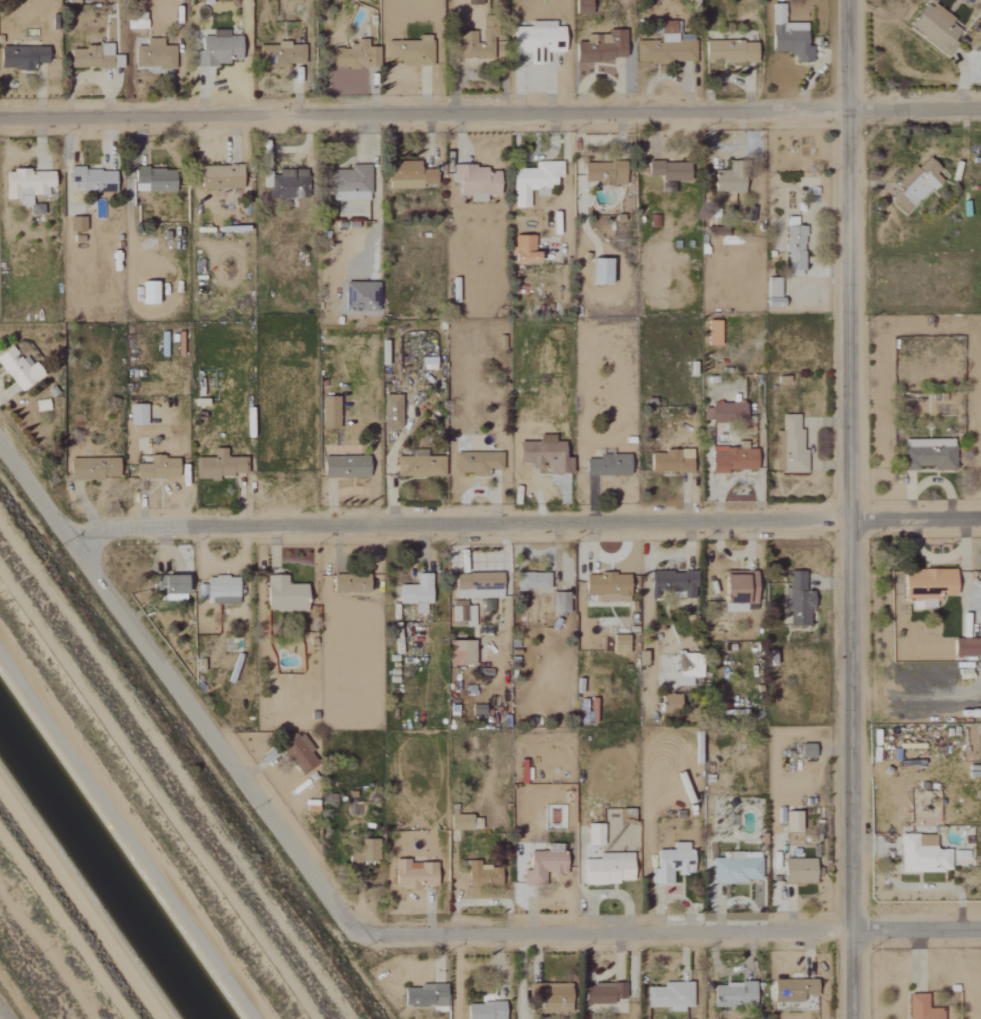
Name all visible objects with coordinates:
building: (581, 6)
building: (933, 26)
building: (786, 35)
building: (535, 40)
building: (601, 47)
building: (222, 49)
building: (663, 49)
building: (728, 51)
building: (413, 52)
building: (157, 55)
building: (283, 55)
building: (362, 55)
building: (24, 57)
building: (97, 58)
road: (490, 114)
building: (667, 170)
building: (602, 172)
building: (411, 175)
building: (223, 177)
building: (96, 180)
building: (157, 180)
building: (474, 181)
building: (531, 182)
building: (288, 184)
building: (354, 184)
building: (724, 184)
building: (915, 184)
building: (30, 187)
building: (79, 224)
building: (793, 245)
building: (521, 248)
building: (596, 270)
building: (771, 287)
building: (152, 293)
building: (358, 296)
building: (712, 332)
building: (20, 369)
building: (389, 411)
building: (328, 412)
building: (721, 412)
building: (135, 414)
building: (788, 447)
building: (543, 454)
building: (926, 454)
building: (731, 460)
building: (669, 461)
building: (475, 462)
building: (217, 465)
building: (605, 465)
building: (343, 466)
building: (92, 468)
building: (155, 468)
road: (39, 496)
road: (854, 509)
road: (523, 523)
building: (530, 581)
building: (348, 583)
building: (671, 584)
building: (476, 585)
building: (169, 587)
building: (605, 587)
building: (735, 588)
building: (217, 590)
building: (415, 593)
building: (283, 595)
building: (795, 596)
building: (559, 603)
building: (462, 613)
building: (618, 644)
building: (964, 647)
building: (459, 653)
building: (686, 668)
road: (213, 734)
building: (804, 750)
building: (296, 753)
road: (157, 795)
building: (790, 821)
road: (130, 829)
building: (593, 834)
building: (363, 852)
building: (920, 855)
building: (669, 863)
building: (541, 867)
building: (606, 869)
building: (733, 869)
building: (796, 871)
building: (412, 874)
building: (481, 874)
road: (83, 898)
road: (63, 929)
road: (661, 933)
road: (456, 978)
building: (791, 990)
building: (601, 993)
building: (731, 995)
building: (669, 996)
building: (423, 997)
building: (550, 998)
building: (920, 1008)
building: (483, 1011)
road: (2, 1015)

